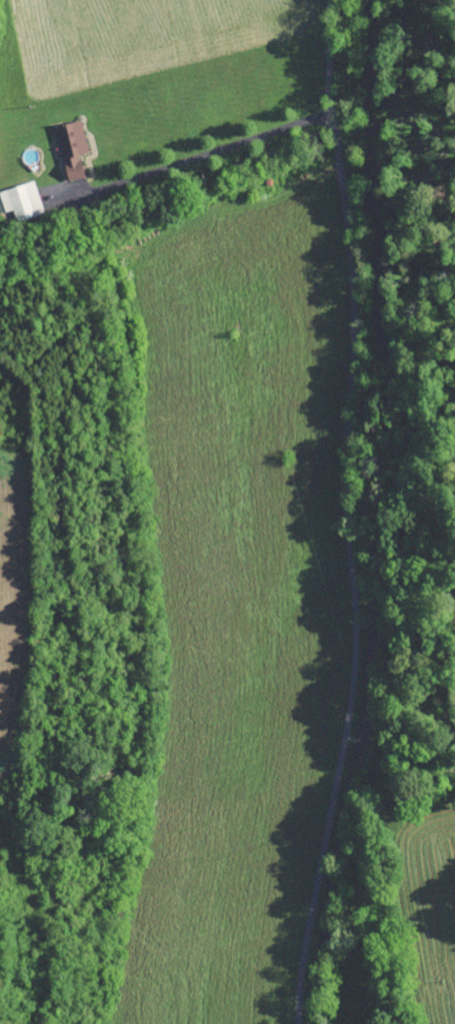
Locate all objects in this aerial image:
building: (76, 149)
building: (24, 201)
road: (345, 513)

